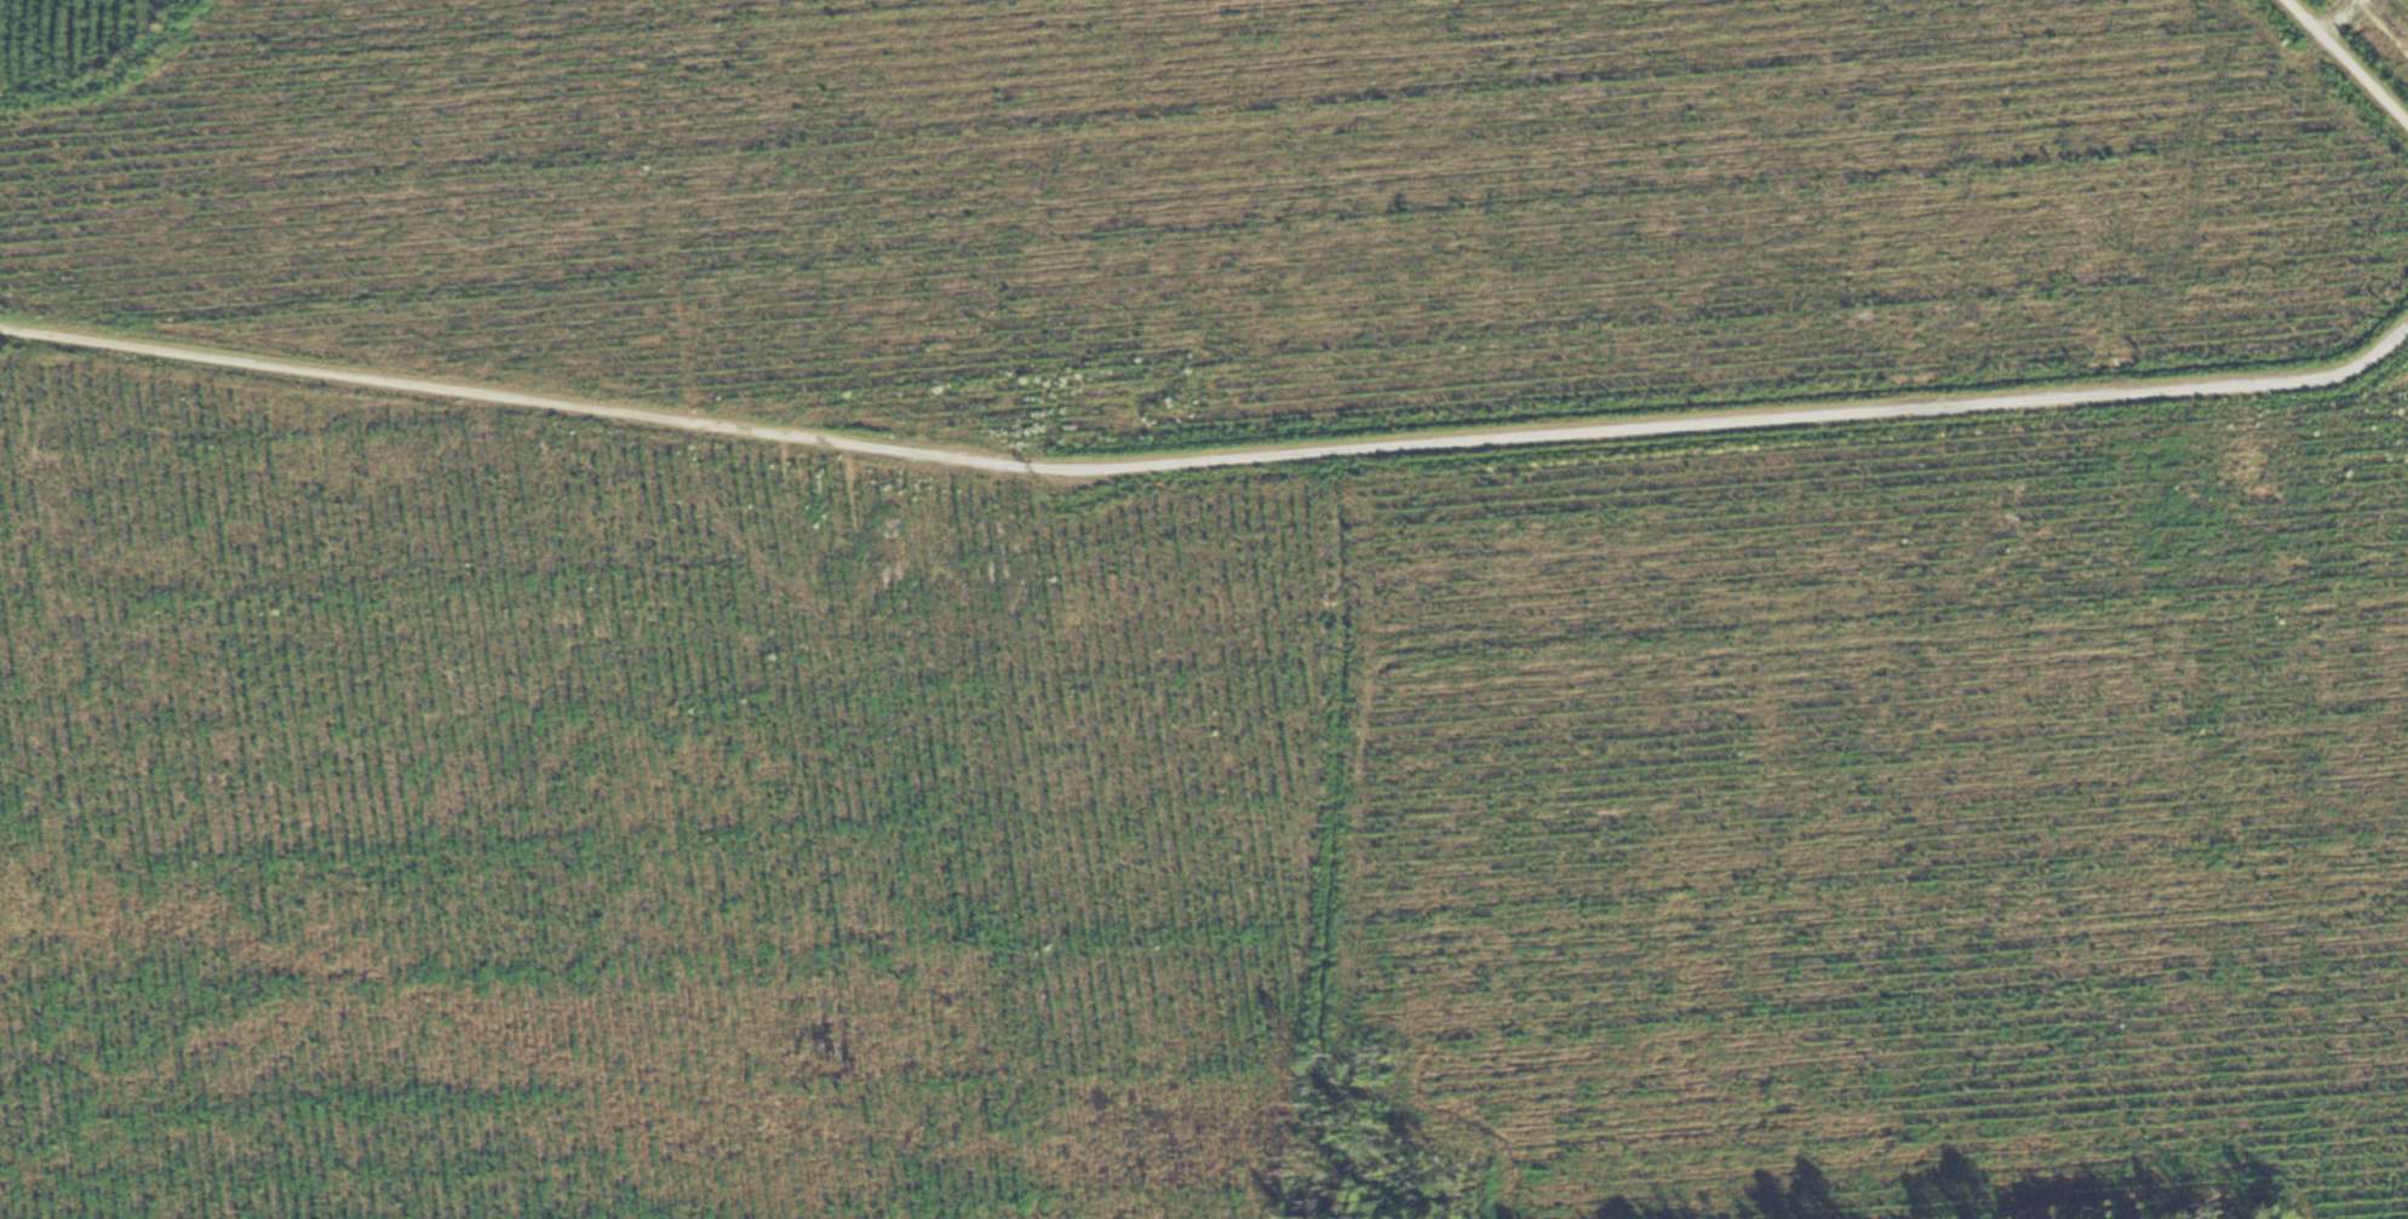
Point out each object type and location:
road: (2363, 45)

